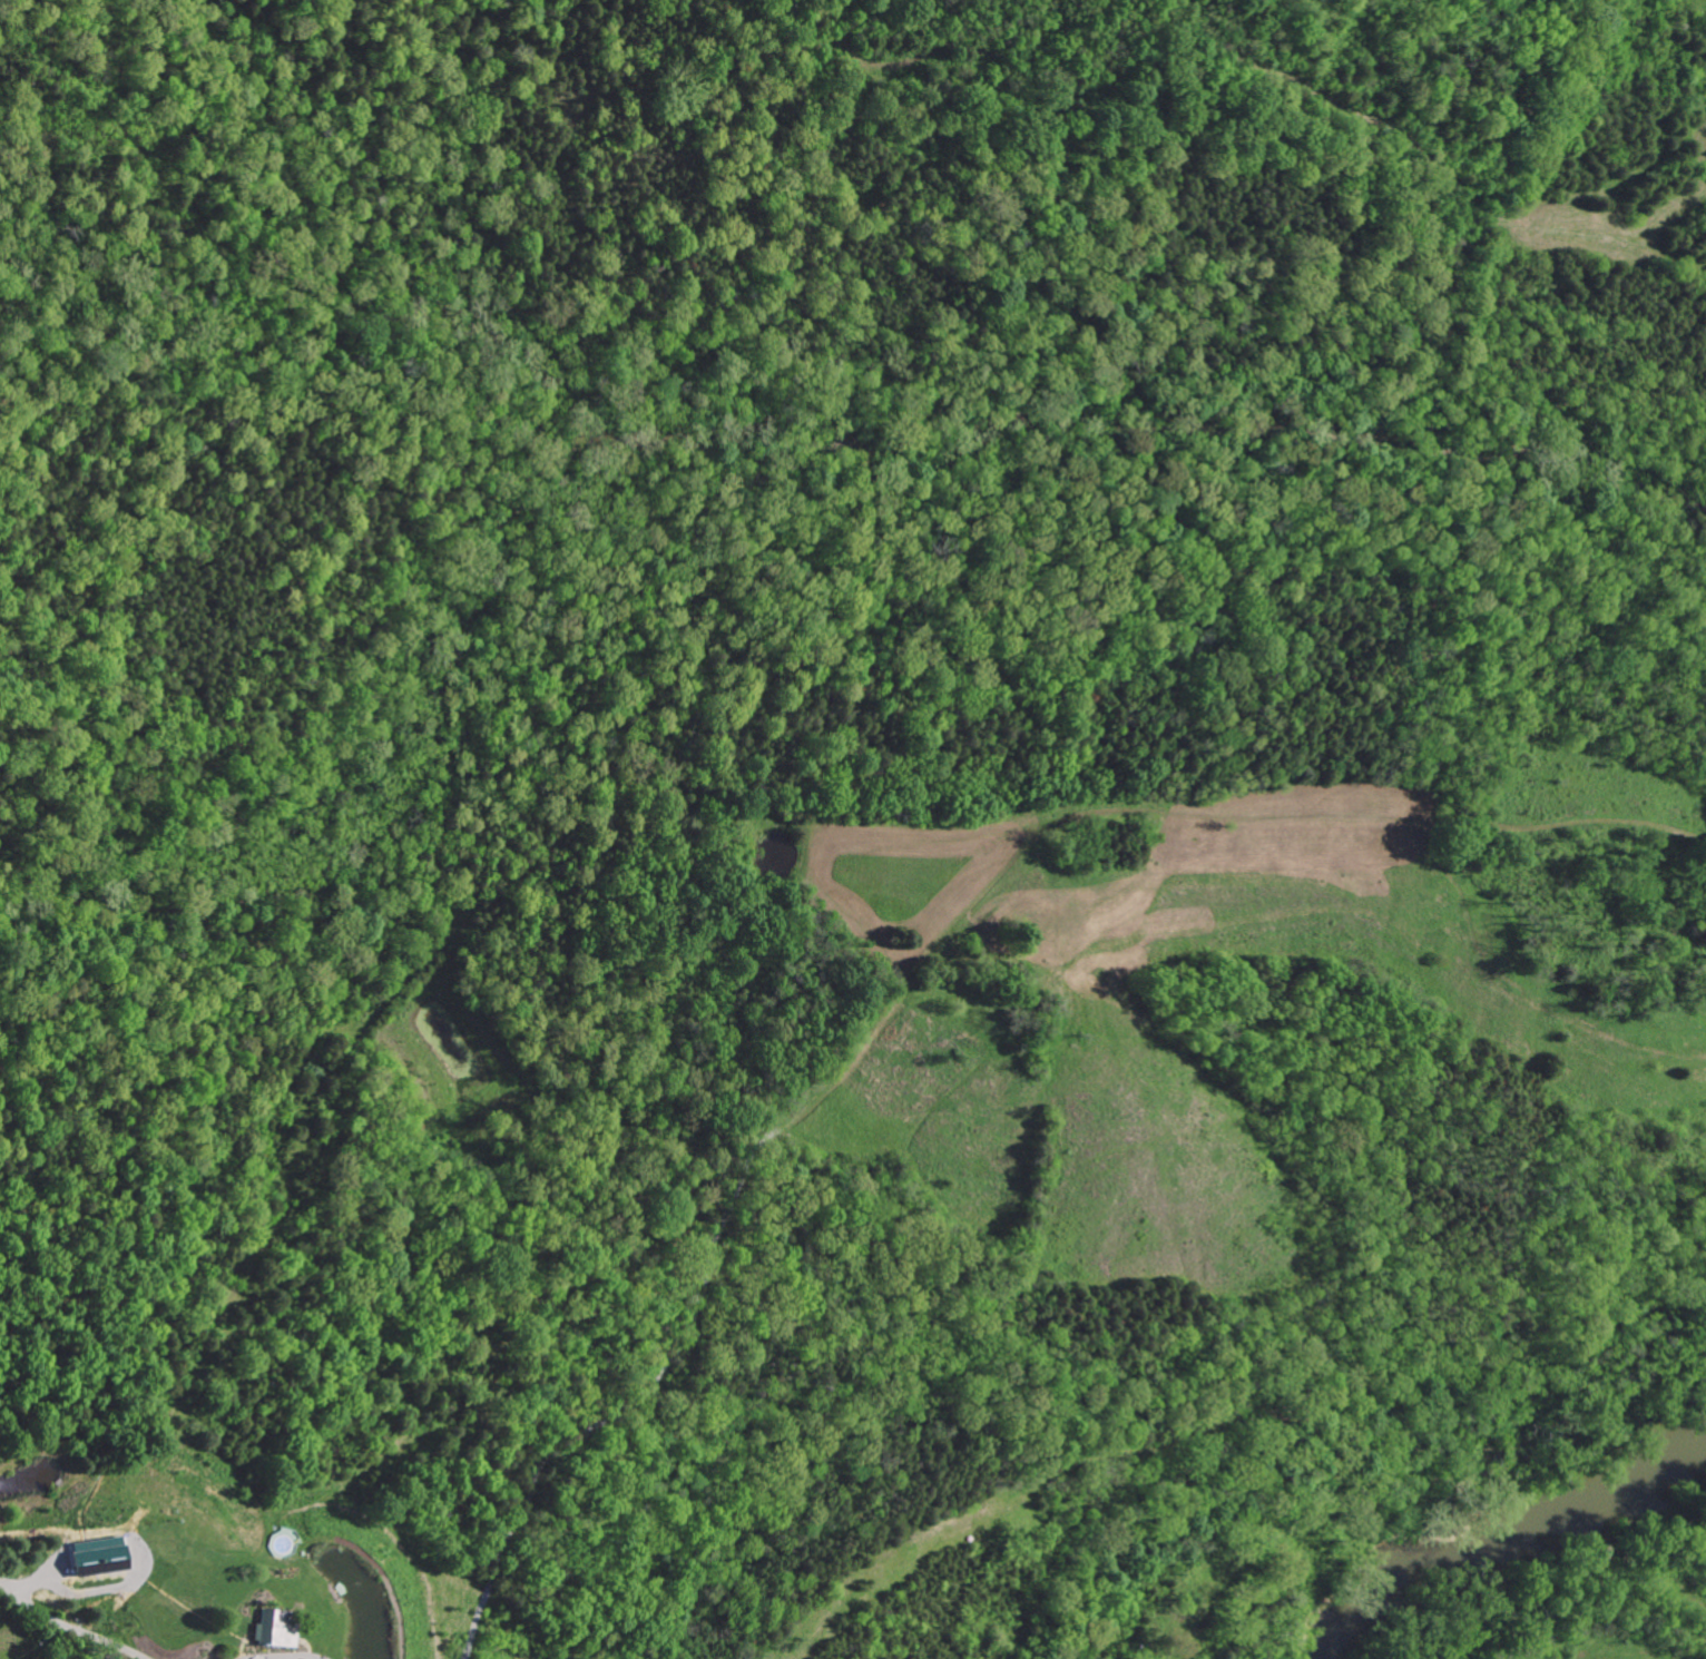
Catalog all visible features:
river: (1499, 1523)
building: (89, 1560)
road: (71, 1626)
building: (277, 1628)
road: (287, 1653)

